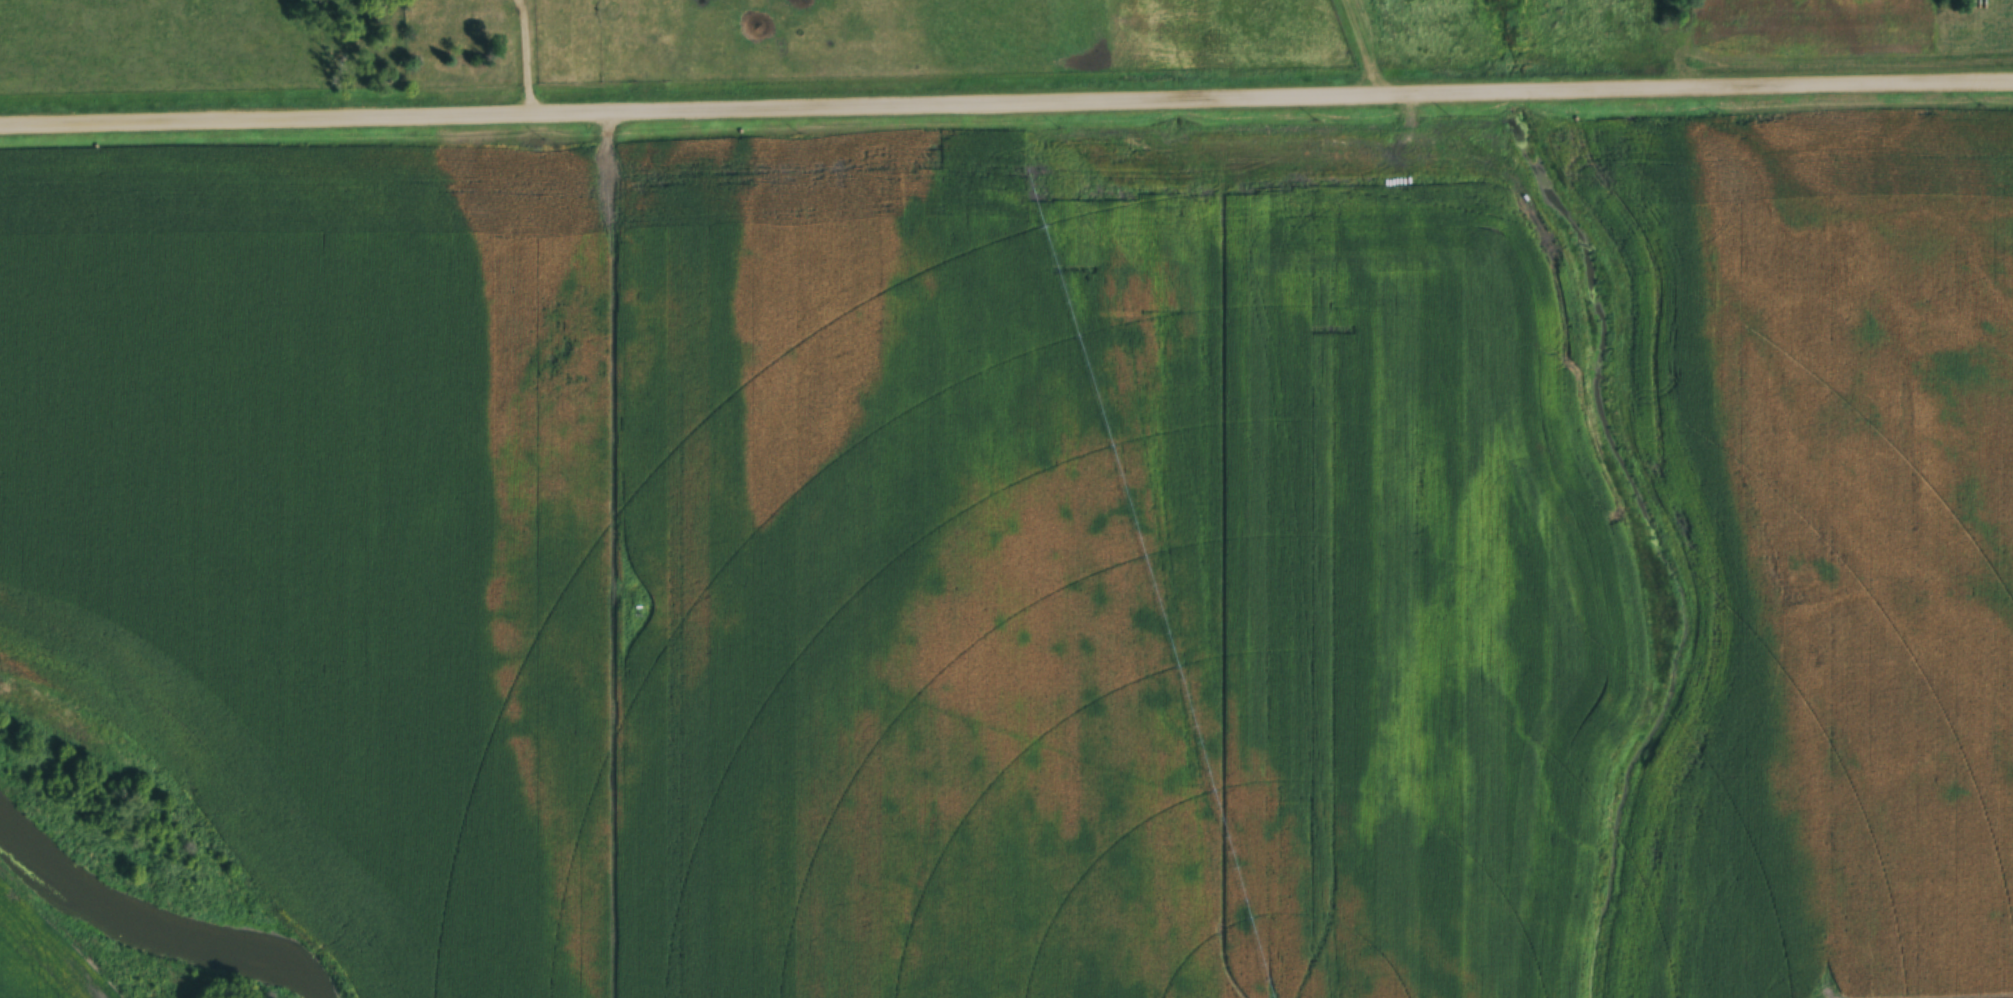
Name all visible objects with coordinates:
building: (610, 11)
building: (486, 24)
road: (1006, 100)
river: (162, 923)

